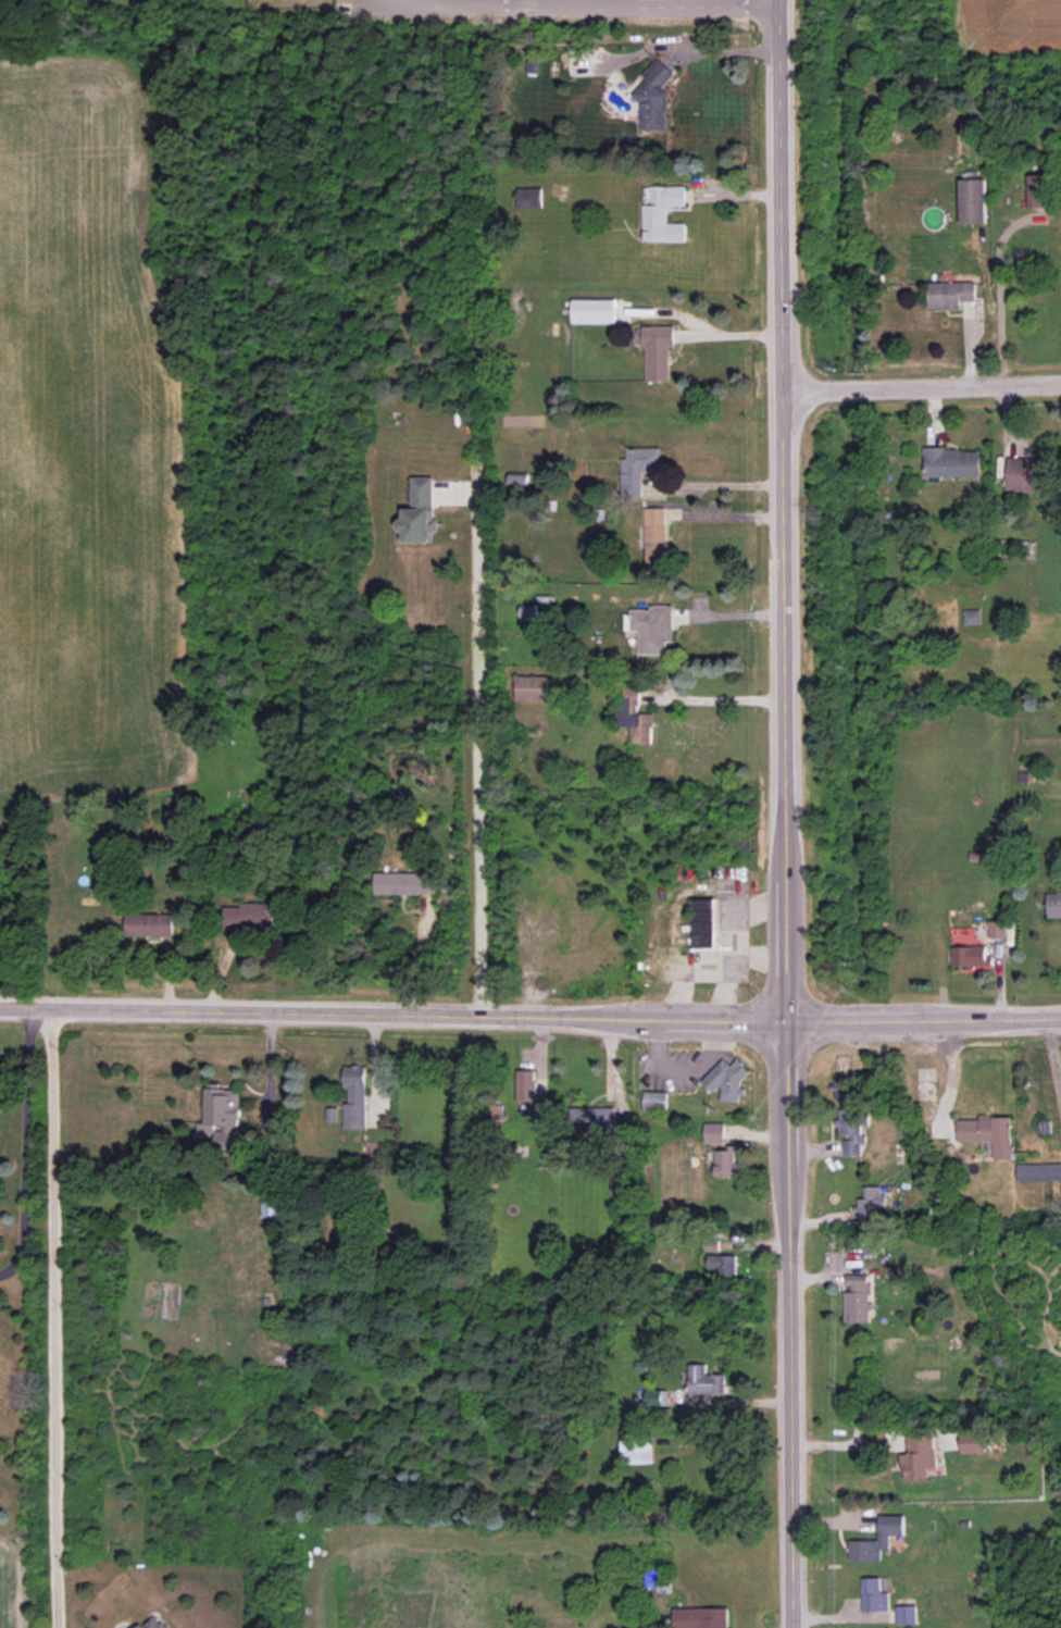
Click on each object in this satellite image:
road: (561, 1)
road: (634, 1)
road: (457, 5)
building: (653, 97)
building: (1037, 190)
building: (528, 197)
building: (972, 201)
building: (662, 213)
building: (950, 294)
road: (999, 305)
building: (592, 311)
road: (706, 339)
building: (657, 351)
road: (921, 387)
building: (952, 462)
building: (637, 468)
building: (1029, 474)
road: (723, 484)
building: (420, 512)
building: (656, 535)
building: (972, 617)
building: (651, 627)
building: (532, 687)
road: (716, 706)
building: (633, 716)
road: (478, 753)
road: (784, 813)
building: (404, 883)
building: (1053, 904)
building: (249, 916)
building: (703, 922)
building: (150, 924)
building: (997, 929)
road: (745, 941)
building: (971, 957)
road: (688, 968)
road: (727, 995)
road: (530, 1016)
road: (1052, 1056)
road: (267, 1071)
road: (682, 1071)
building: (727, 1079)
building: (845, 1088)
building: (527, 1090)
building: (354, 1097)
building: (654, 1101)
building: (223, 1116)
building: (598, 1119)
building: (851, 1130)
building: (714, 1133)
building: (988, 1133)
road: (24, 1145)
building: (725, 1161)
building: (1038, 1171)
building: (870, 1202)
building: (272, 1205)
building: (857, 1298)
road: (52, 1318)
building: (704, 1381)
building: (652, 1397)
building: (973, 1442)
building: (637, 1451)
building: (919, 1456)
building: (884, 1537)
building: (873, 1595)
building: (906, 1615)
building: (699, 1617)
building: (153, 1623)

